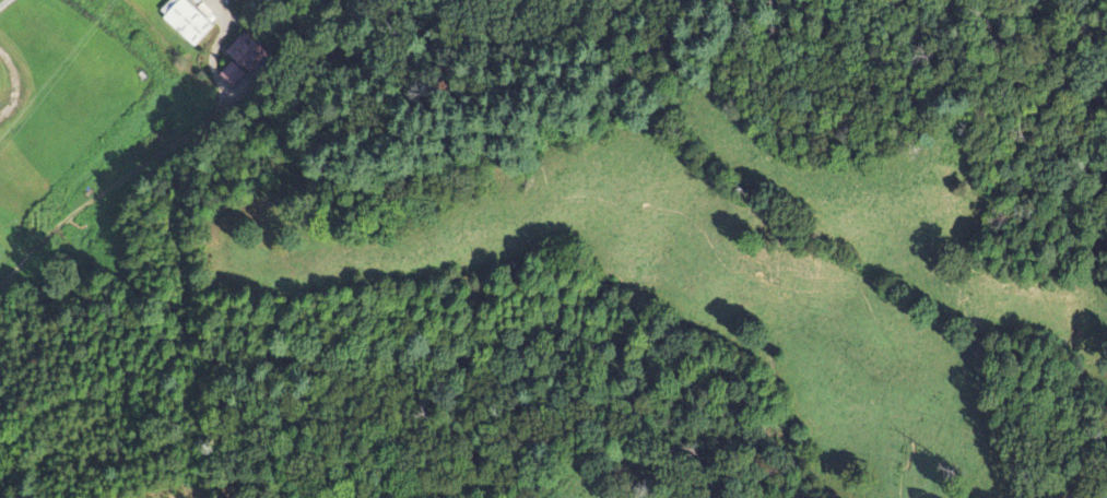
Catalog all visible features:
building: (189, 22)
building: (1, 93)

